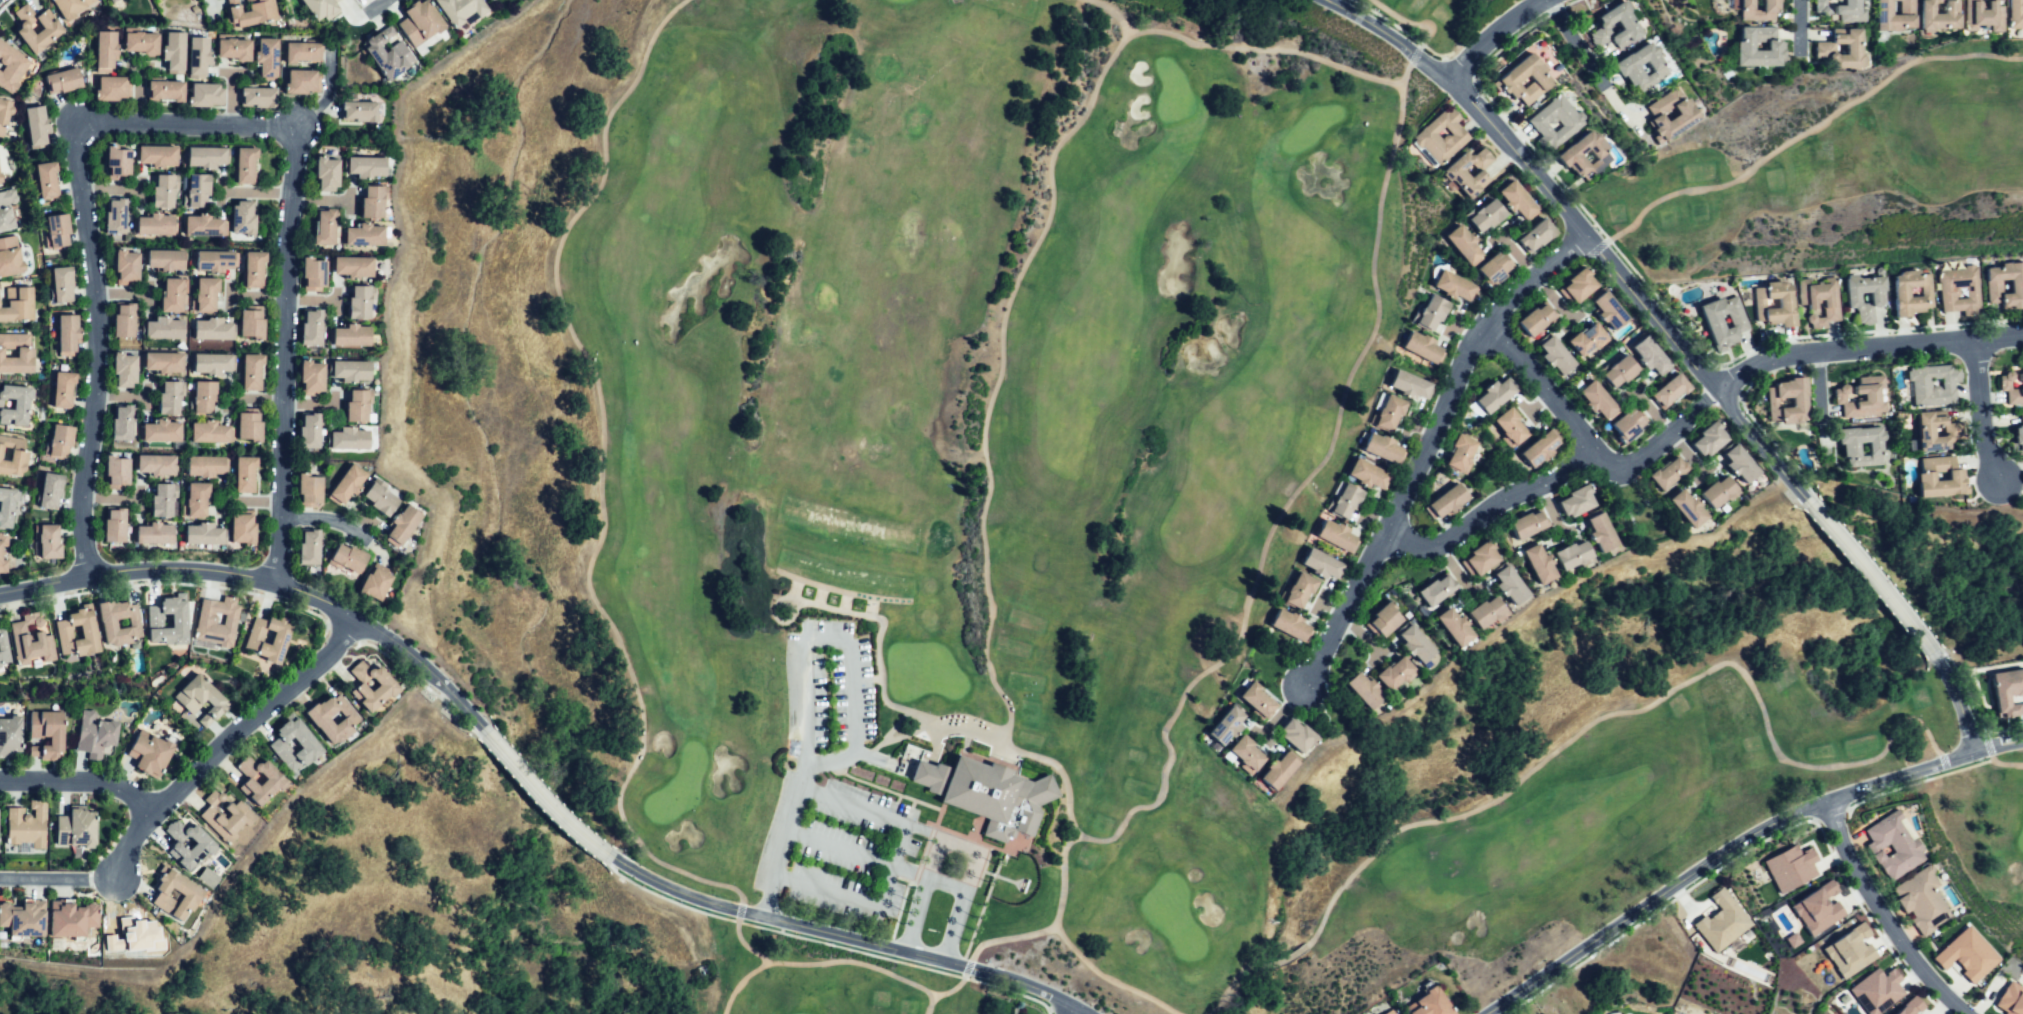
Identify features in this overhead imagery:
building: (109, 0)
building: (112, 0)
road: (373, 4)
building: (1901, 4)
building: (1815, 6)
building: (73, 8)
building: (320, 8)
building: (1843, 8)
building: (465, 10)
building: (1753, 10)
building: (252, 12)
building: (1980, 13)
building: (2014, 13)
building: (1884, 16)
building: (1934, 16)
building: (422, 23)
building: (1609, 24)
building: (37, 28)
road: (1798, 28)
road: (1426, 32)
road: (1487, 34)
building: (142, 42)
building: (1740, 45)
building: (107, 49)
building: (235, 49)
building: (1821, 49)
building: (175, 51)
building: (305, 51)
building: (198, 57)
building: (268, 58)
building: (390, 58)
building: (10, 65)
road: (1589, 67)
building: (1623, 69)
building: (1518, 76)
building: (64, 81)
building: (302, 82)
building: (114, 88)
building: (165, 91)
road: (329, 92)
building: (207, 96)
building: (260, 97)
building: (361, 111)
building: (4, 114)
building: (1678, 115)
building: (1552, 118)
road: (193, 125)
building: (37, 126)
building: (1422, 134)
building: (1565, 153)
building: (156, 156)
building: (207, 156)
building: (119, 164)
building: (247, 166)
building: (368, 168)
building: (327, 175)
building: (1450, 175)
building: (49, 179)
building: (163, 190)
building: (199, 192)
building: (1509, 198)
building: (375, 203)
building: (6, 208)
building: (115, 216)
building: (1479, 216)
building: (244, 219)
building: (156, 225)
building: (204, 226)
building: (324, 226)
building: (55, 230)
building: (1530, 236)
building: (362, 237)
road: (1615, 237)
building: (1458, 244)
building: (10, 258)
building: (164, 261)
building: (217, 262)
building: (126, 266)
building: (355, 267)
building: (254, 270)
building: (1488, 270)
building: (315, 274)
building: (1572, 285)
building: (2004, 285)
building: (63, 286)
building: (1451, 287)
building: (1957, 289)
building: (1809, 293)
building: (1908, 293)
building: (172, 294)
building: (205, 295)
building: (1861, 295)
building: (361, 303)
building: (18, 305)
building: (1771, 306)
building: (1603, 310)
building: (1425, 311)
building: (125, 318)
building: (1530, 319)
building: (1706, 319)
building: (253, 323)
building: (312, 325)
building: (165, 328)
building: (213, 328)
building: (69, 335)
building: (353, 335)
building: (1581, 338)
building: (1417, 348)
road: (1683, 348)
road: (1866, 349)
road: (95, 351)
building: (16, 353)
road: (282, 353)
building: (1643, 354)
building: (1549, 355)
building: (164, 360)
building: (213, 362)
building: (125, 369)
building: (353, 369)
building: (251, 371)
building: (1613, 372)
road: (1003, 374)
building: (315, 377)
building: (1411, 384)
building: (1930, 384)
building: (2010, 388)
building: (64, 389)
road: (1546, 391)
building: (1663, 391)
building: (170, 396)
building: (205, 397)
building: (1491, 398)
building: (1590, 398)
road: (1819, 399)
building: (1859, 401)
building: (1792, 403)
building: (14, 404)
building: (355, 405)
road: (1981, 412)
building: (1391, 413)
building: (2019, 414)
building: (121, 421)
building: (251, 424)
building: (1622, 424)
building: (1511, 426)
building: (309, 429)
building: (161, 430)
building: (1933, 431)
building: (212, 432)
building: (2016, 436)
building: (351, 438)
building: (61, 439)
building: (1703, 440)
road: (1427, 445)
building: (1384, 448)
building: (1542, 448)
building: (1844, 449)
building: (1463, 451)
building: (12, 457)
building: (1735, 462)
building: (155, 464)
building: (208, 465)
park: (1216, 467)
road: (1314, 469)
building: (118, 470)
road: (1553, 472)
building: (246, 473)
building: (1370, 473)
building: (1662, 473)
building: (1937, 478)
building: (349, 484)
building: (310, 487)
building: (51, 489)
building: (1711, 492)
building: (198, 497)
building: (163, 498)
building: (1579, 498)
building: (381, 499)
building: (1349, 500)
building: (1450, 501)
building: (8, 507)
building: (1681, 508)
road: (324, 519)
building: (115, 524)
building: (405, 524)
building: (1527, 525)
building: (245, 528)
building: (155, 532)
building: (1606, 532)
building: (205, 534)
building: (1339, 535)
building: (51, 541)
building: (308, 545)
building: (3, 552)
building: (1577, 554)
building: (349, 556)
building: (1484, 556)
building: (1542, 562)
building: (1325, 563)
building: (377, 582)
building: (1513, 585)
building: (1441, 589)
building: (1302, 591)
building: (1489, 612)
building: (207, 618)
building: (170, 620)
building: (109, 622)
building: (1384, 622)
building: (1294, 625)
building: (1457, 625)
building: (65, 632)
building: (255, 636)
building: (32, 640)
building: (1419, 643)
building: (3, 647)
road: (620, 655)
building: (0, 666)
road: (797, 668)
building: (1399, 673)
building: (372, 685)
building: (1366, 689)
building: (2002, 691)
building: (200, 698)
building: (1259, 700)
building: (334, 717)
building: (1227, 726)
road: (1584, 729)
building: (47, 733)
building: (96, 734)
building: (9, 735)
building: (1300, 735)
road: (1000, 737)
building: (310, 745)
road: (225, 747)
building: (152, 753)
building: (1247, 755)
road: (2013, 764)
road: (1924, 769)
building: (1282, 771)
road: (527, 775)
building: (260, 780)
road: (81, 785)
building: (985, 792)
building: (227, 814)
parking lot: (857, 818)
building: (27, 825)
building: (77, 826)
road: (901, 843)
building: (192, 844)
building: (1890, 845)
road: (953, 849)
road: (771, 853)
building: (1789, 867)
road: (55, 881)
building: (174, 893)
road: (844, 893)
road: (1651, 900)
building: (1917, 901)
building: (1816, 908)
road: (1882, 916)
building: (73, 920)
building: (24, 921)
building: (1720, 921)
building: (1849, 950)
building: (1966, 954)
road: (742, 985)
building: (1875, 990)
building: (2009, 1000)
road: (927, 1002)
building: (1433, 1005)
building: (1909, 1006)
road: (1066, 1009)
road: (1074, 1009)
building: (1387, 1011)
building: (1395, 1013)

